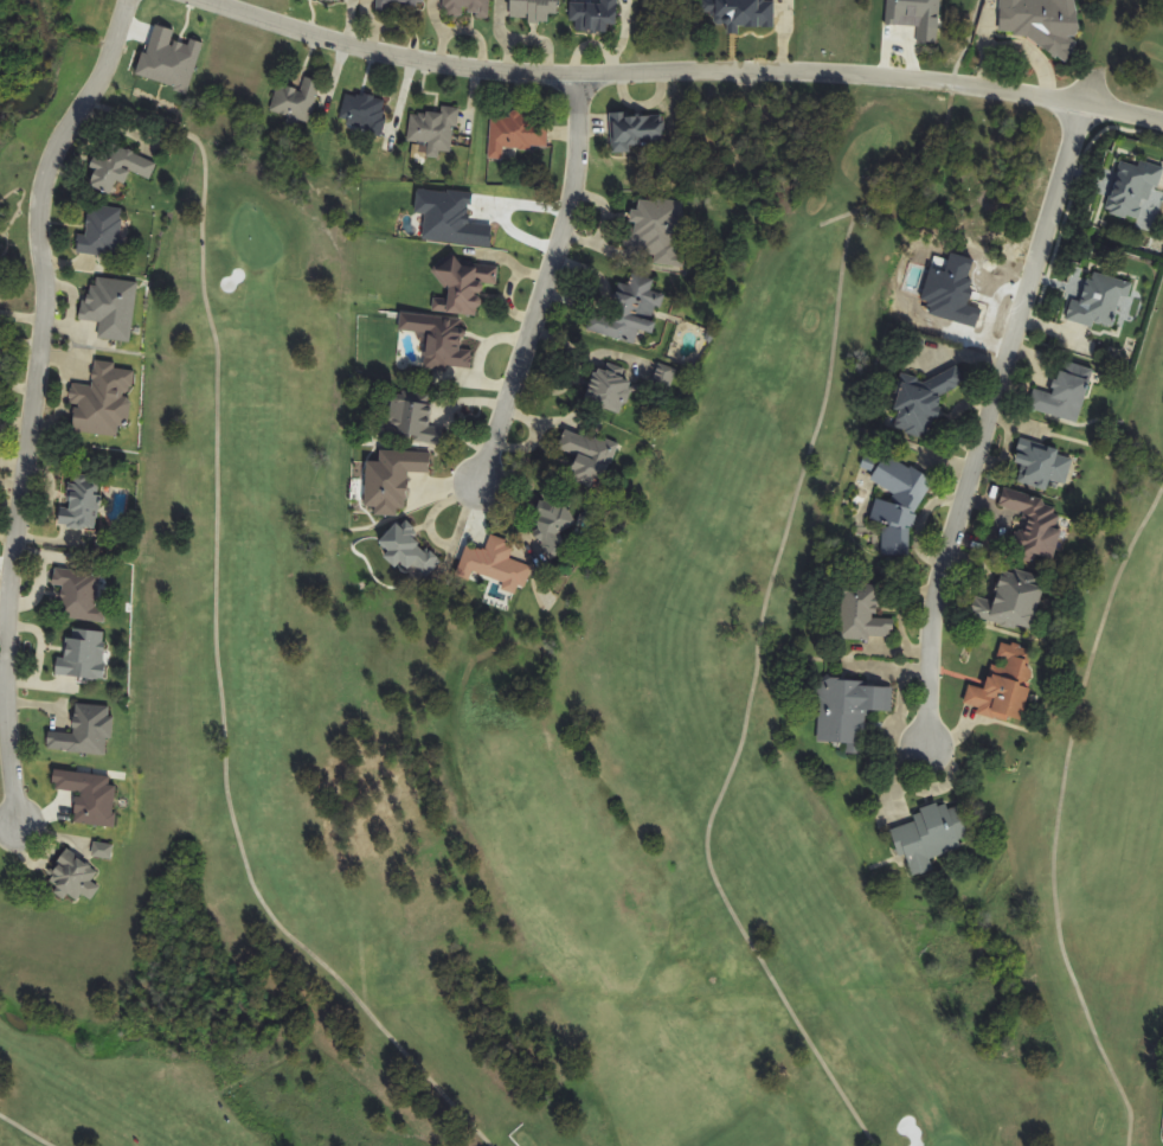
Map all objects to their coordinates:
building: (396, 6)
building: (461, 7)
building: (595, 14)
building: (912, 14)
building: (532, 15)
building: (738, 18)
building: (1037, 21)
road: (959, 43)
building: (167, 59)
road: (679, 77)
building: (295, 98)
building: (358, 114)
building: (432, 130)
building: (637, 133)
building: (525, 139)
building: (115, 164)
building: (1135, 197)
road: (838, 218)
building: (655, 230)
building: (85, 235)
road: (545, 281)
building: (464, 284)
building: (1103, 296)
building: (105, 307)
building: (635, 309)
building: (428, 341)
building: (1058, 391)
building: (609, 395)
road: (33, 401)
building: (924, 402)
building: (103, 405)
building: (407, 418)
road: (985, 420)
building: (579, 461)
building: (1037, 466)
building: (383, 482)
building: (86, 512)
building: (891, 512)
building: (552, 530)
building: (1033, 540)
building: (399, 557)
building: (486, 563)
park: (580, 572)
building: (78, 593)
building: (1014, 608)
road: (763, 616)
building: (859, 619)
road: (214, 632)
building: (84, 654)
building: (1004, 689)
building: (844, 718)
building: (82, 732)
building: (89, 795)
road: (1056, 808)
building: (927, 840)
building: (65, 873)
road: (26, 1129)

